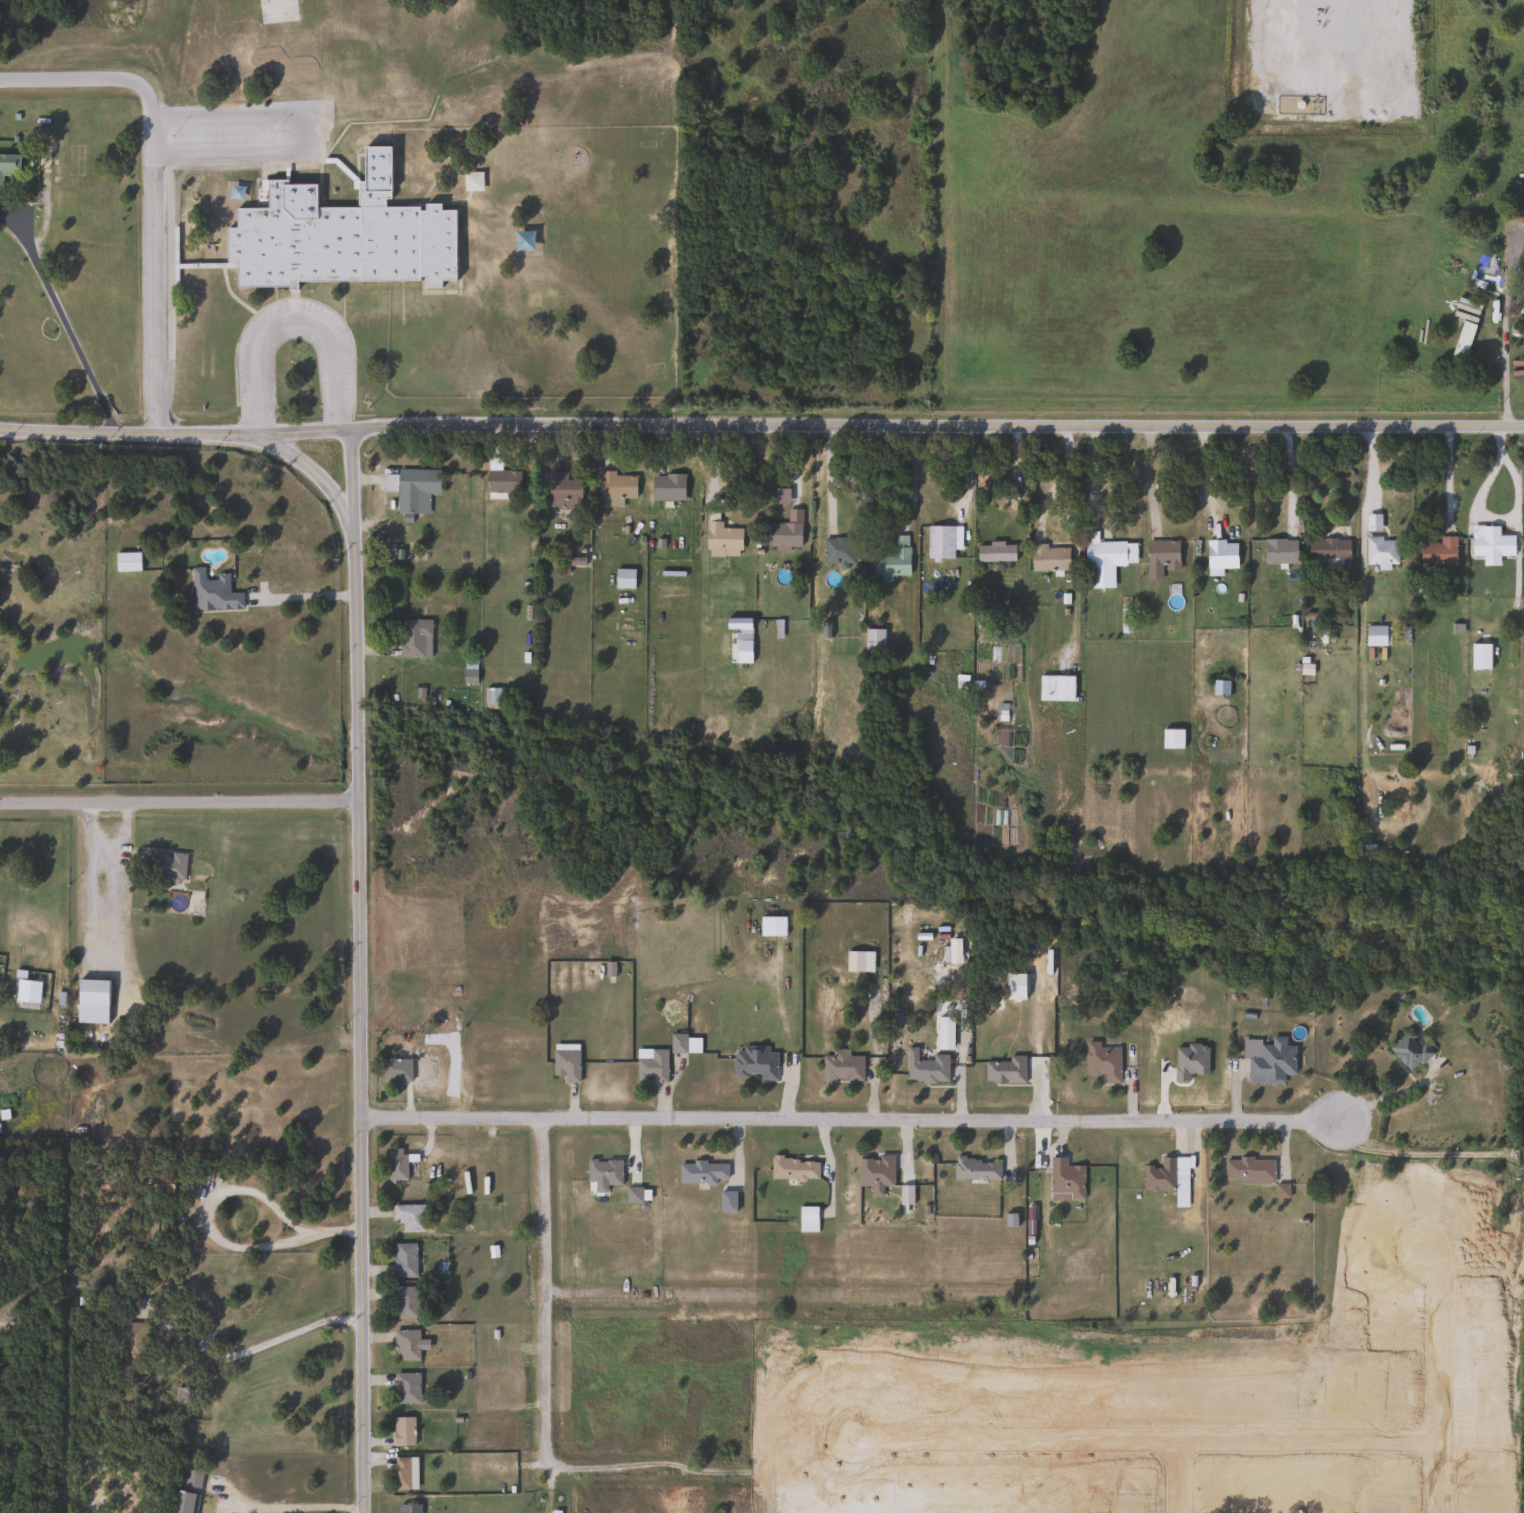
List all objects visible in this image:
road: (332, 99)
road: (289, 126)
building: (1504, 130)
parking lot: (238, 132)
building: (9, 164)
building: (472, 181)
road: (356, 183)
road: (152, 186)
road: (173, 234)
building: (340, 235)
building: (522, 241)
building: (1518, 310)
road: (60, 317)
road: (292, 322)
road: (1503, 363)
parking lot: (253, 377)
road: (938, 427)
road: (176, 429)
road: (311, 470)
road: (828, 474)
road: (1339, 476)
road: (1092, 477)
road: (1287, 477)
road: (1146, 480)
road: (1204, 481)
building: (502, 482)
building: (667, 486)
building: (411, 488)
building: (615, 488)
building: (563, 491)
road: (1507, 514)
building: (783, 535)
building: (722, 540)
building: (940, 542)
road: (1074, 542)
building: (1491, 545)
building: (837, 550)
building: (1328, 550)
building: (1279, 551)
building: (994, 552)
building: (1380, 552)
building: (1438, 552)
building: (1109, 553)
building: (1220, 554)
building: (1048, 558)
building: (1160, 558)
building: (892, 559)
building: (127, 562)
building: (623, 579)
building: (212, 592)
road: (304, 596)
building: (742, 629)
building: (1375, 636)
building: (414, 639)
building: (873, 641)
building: (1055, 688)
building: (490, 698)
building: (1171, 739)
road: (180, 804)
building: (166, 866)
building: (771, 925)
building: (853, 961)
road: (361, 971)
building: (91, 992)
building: (676, 1043)
building: (1408, 1050)
building: (564, 1061)
building: (1101, 1061)
building: (1271, 1062)
building: (754, 1063)
building: (650, 1065)
building: (841, 1068)
building: (926, 1069)
building: (395, 1070)
building: (1004, 1070)
road: (1390, 1093)
road: (850, 1120)
building: (396, 1164)
building: (793, 1168)
building: (975, 1168)
building: (1247, 1169)
building: (603, 1171)
building: (874, 1171)
building: (701, 1172)
building: (1158, 1175)
building: (1065, 1178)
building: (161, 1185)
road: (223, 1187)
building: (726, 1201)
building: (408, 1216)
building: (404, 1259)
road: (796, 1297)
building: (405, 1301)
building: (129, 1335)
building: (406, 1344)
road: (217, 1355)
building: (406, 1388)
building: (180, 1403)
building: (402, 1430)
road: (632, 1467)
building: (399, 1473)
building: (187, 1492)
road: (278, 1508)
building: (407, 1508)

